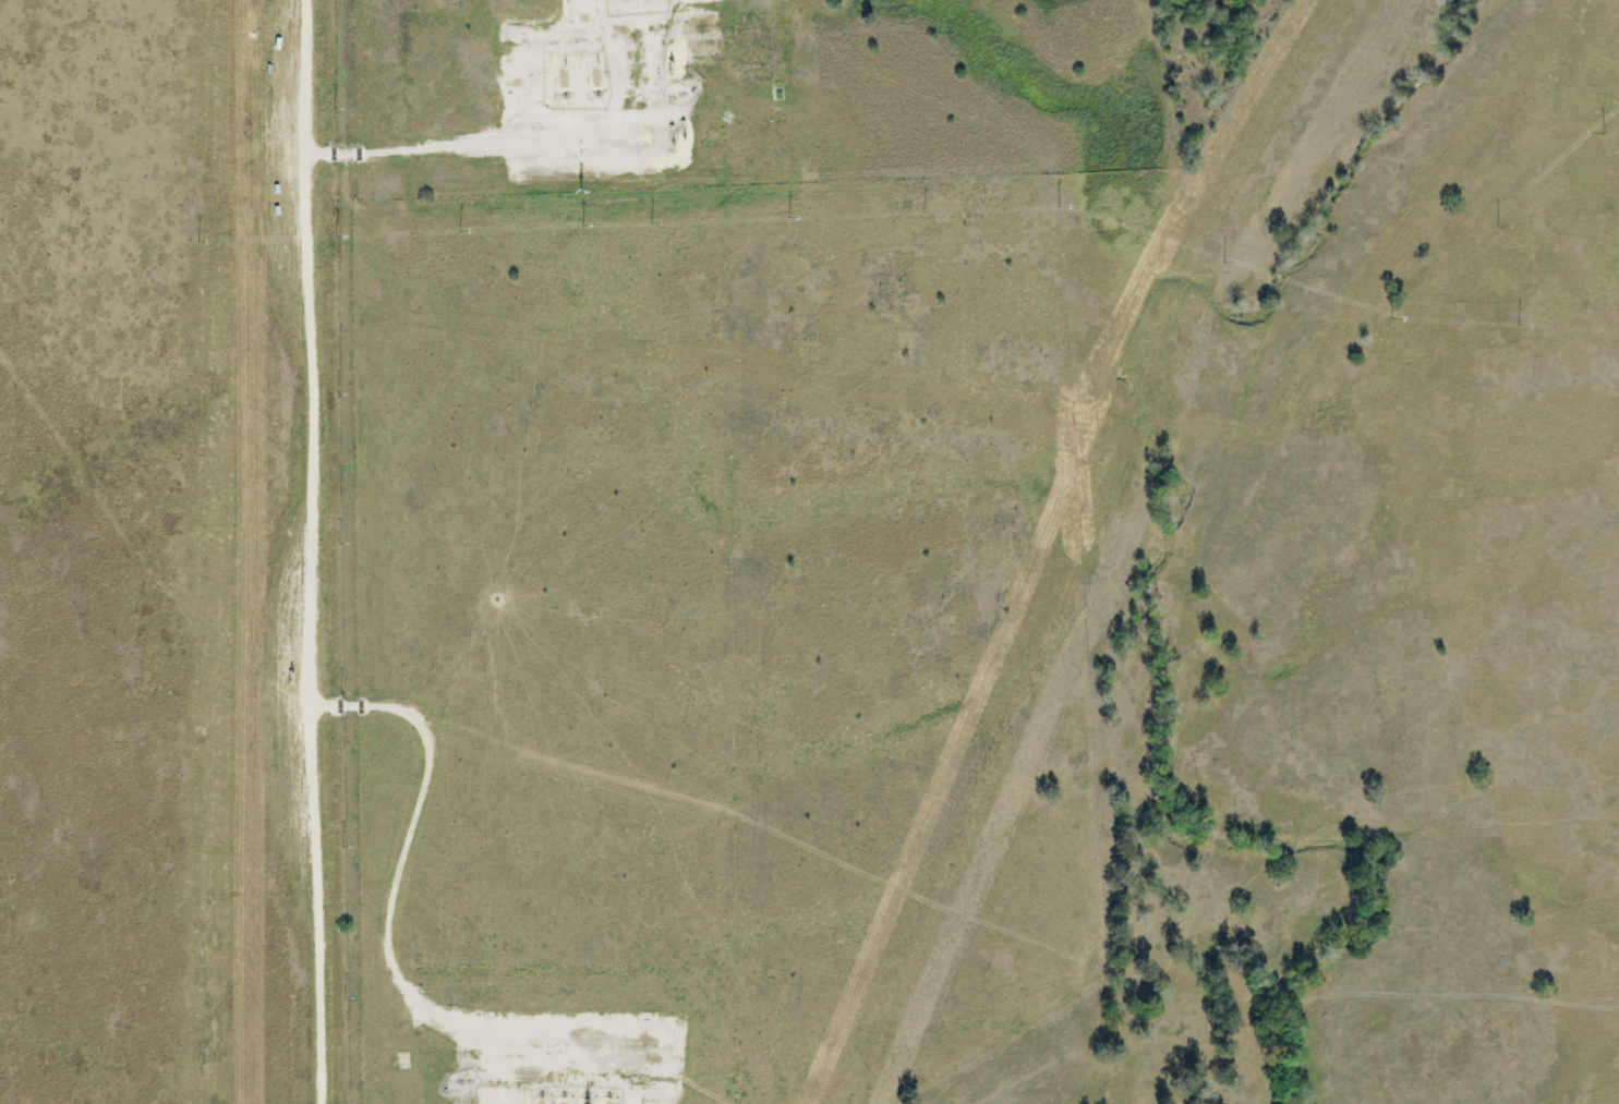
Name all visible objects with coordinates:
petroleum well: (565, 80)
road: (456, 148)
road: (302, 551)
road: (383, 941)

